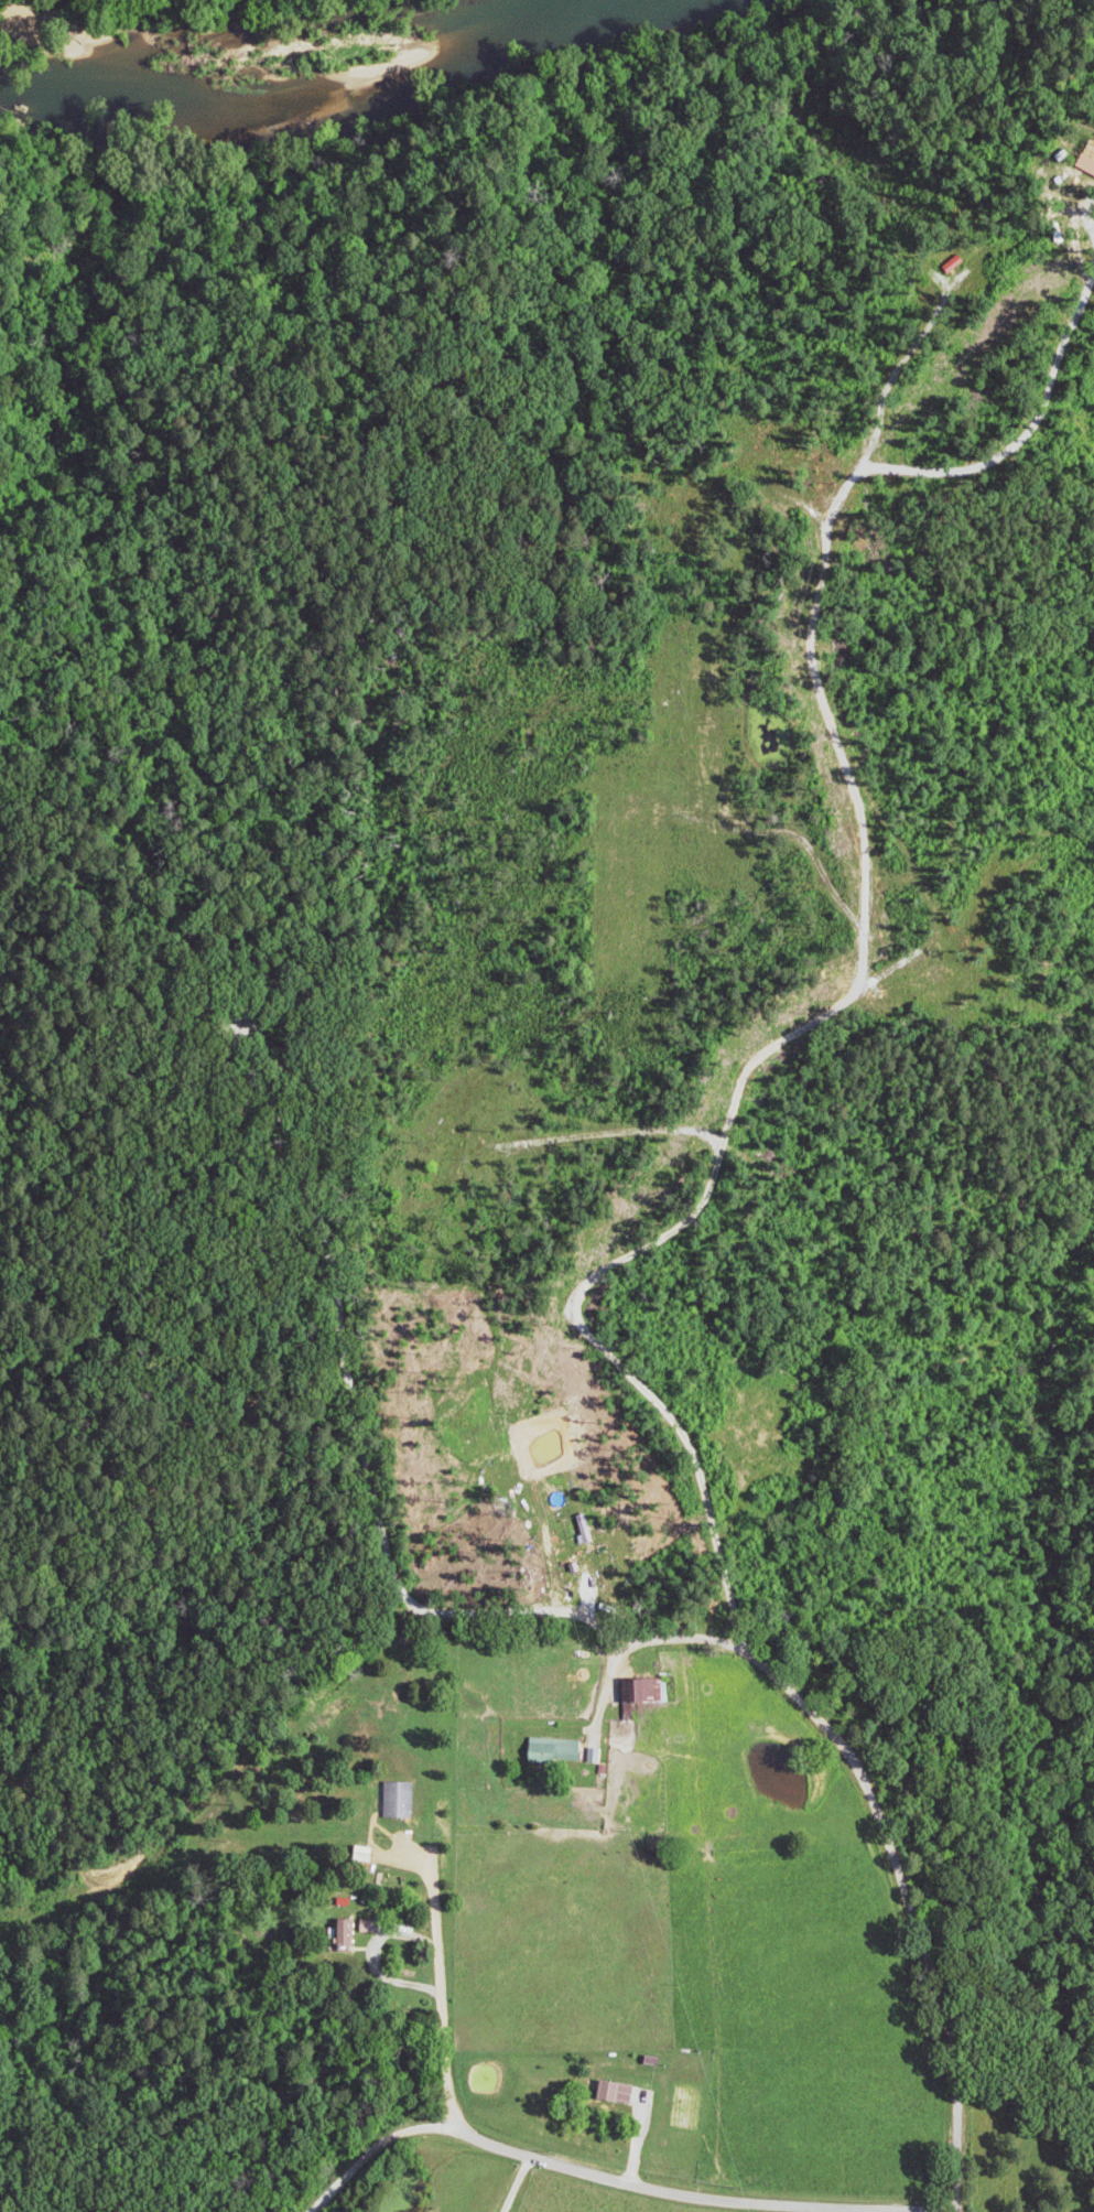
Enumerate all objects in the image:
river: (333, 108)
building: (963, 261)
building: (651, 1690)
building: (559, 1748)
road: (866, 1796)
building: (401, 1799)
building: (372, 1924)
building: (349, 1930)
road: (436, 1976)
building: (622, 2090)
road: (610, 2178)
road: (517, 2182)

